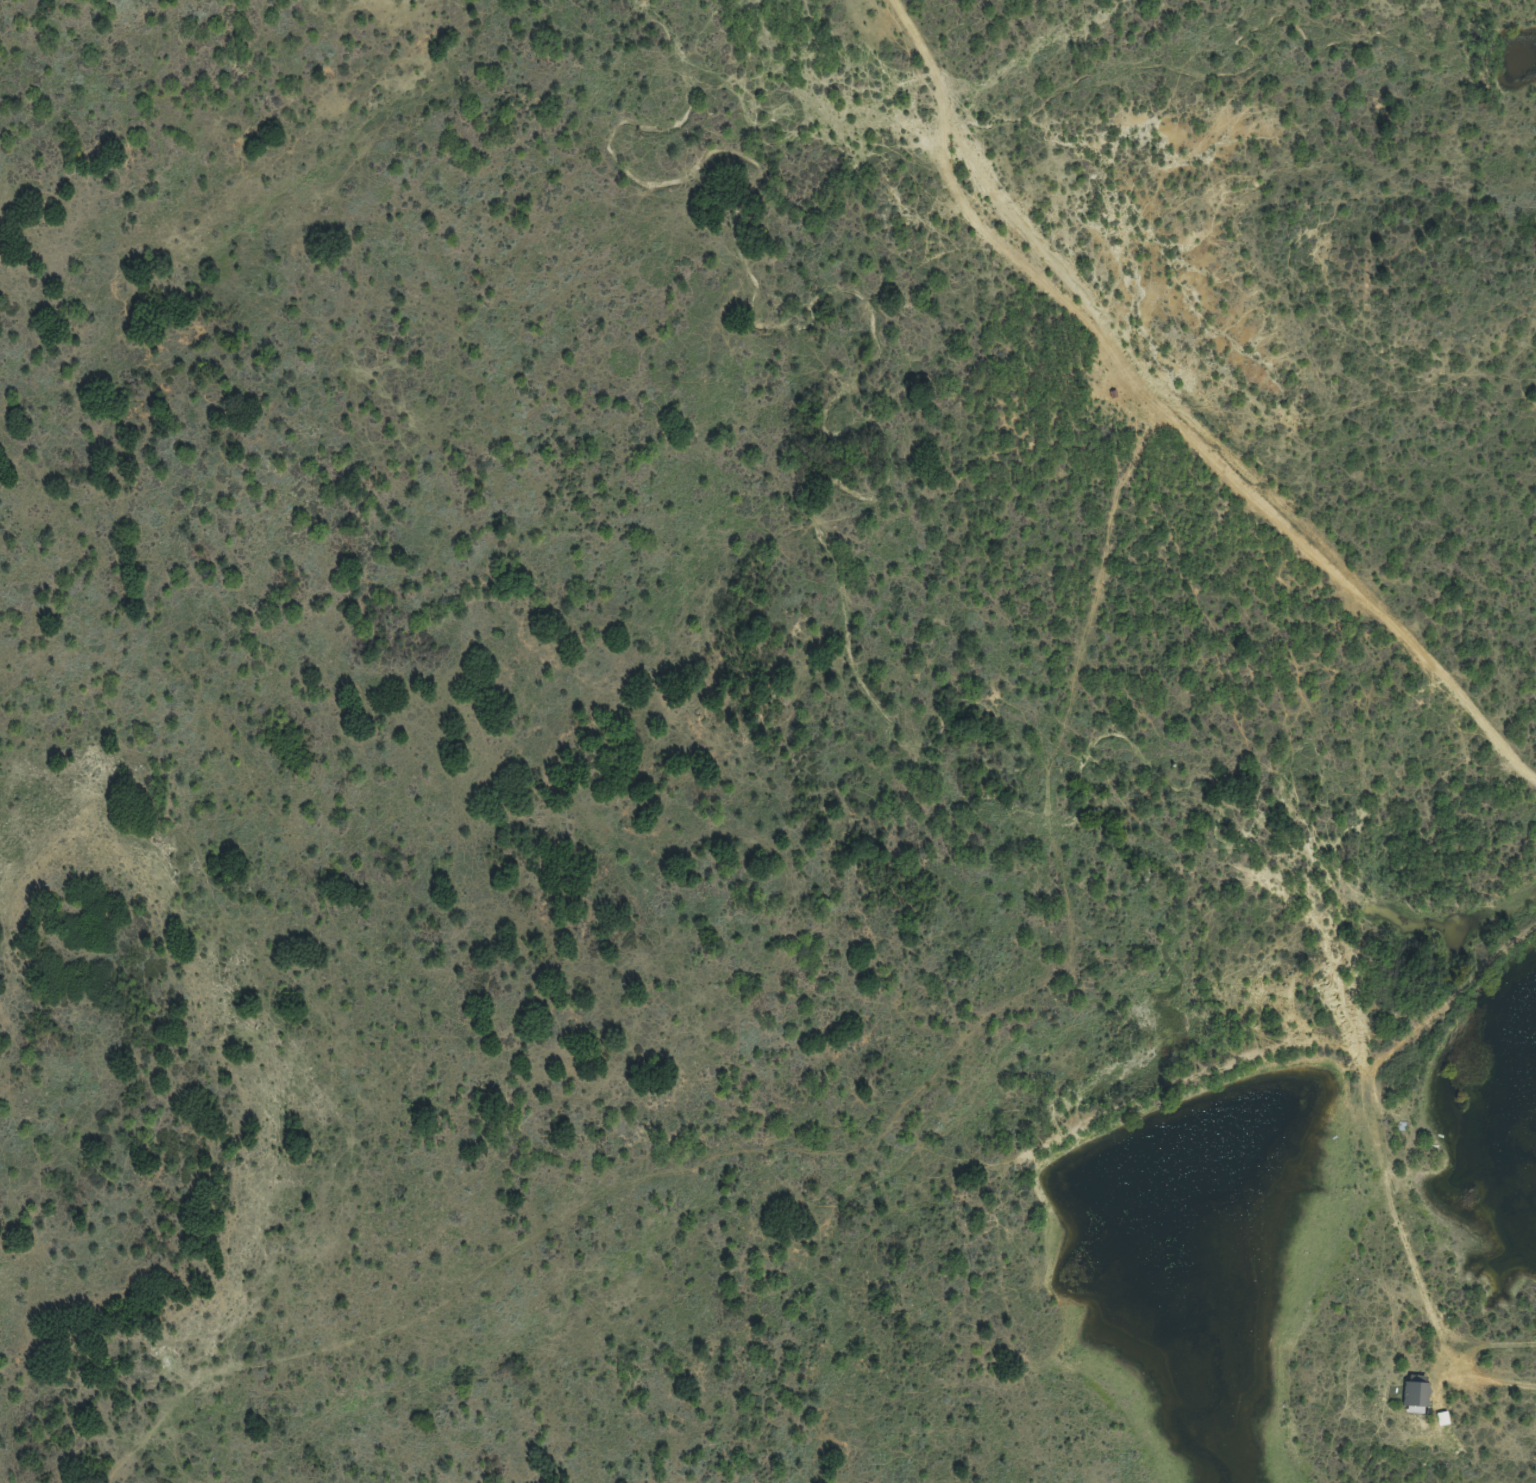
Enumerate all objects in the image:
building: (1418, 1406)

